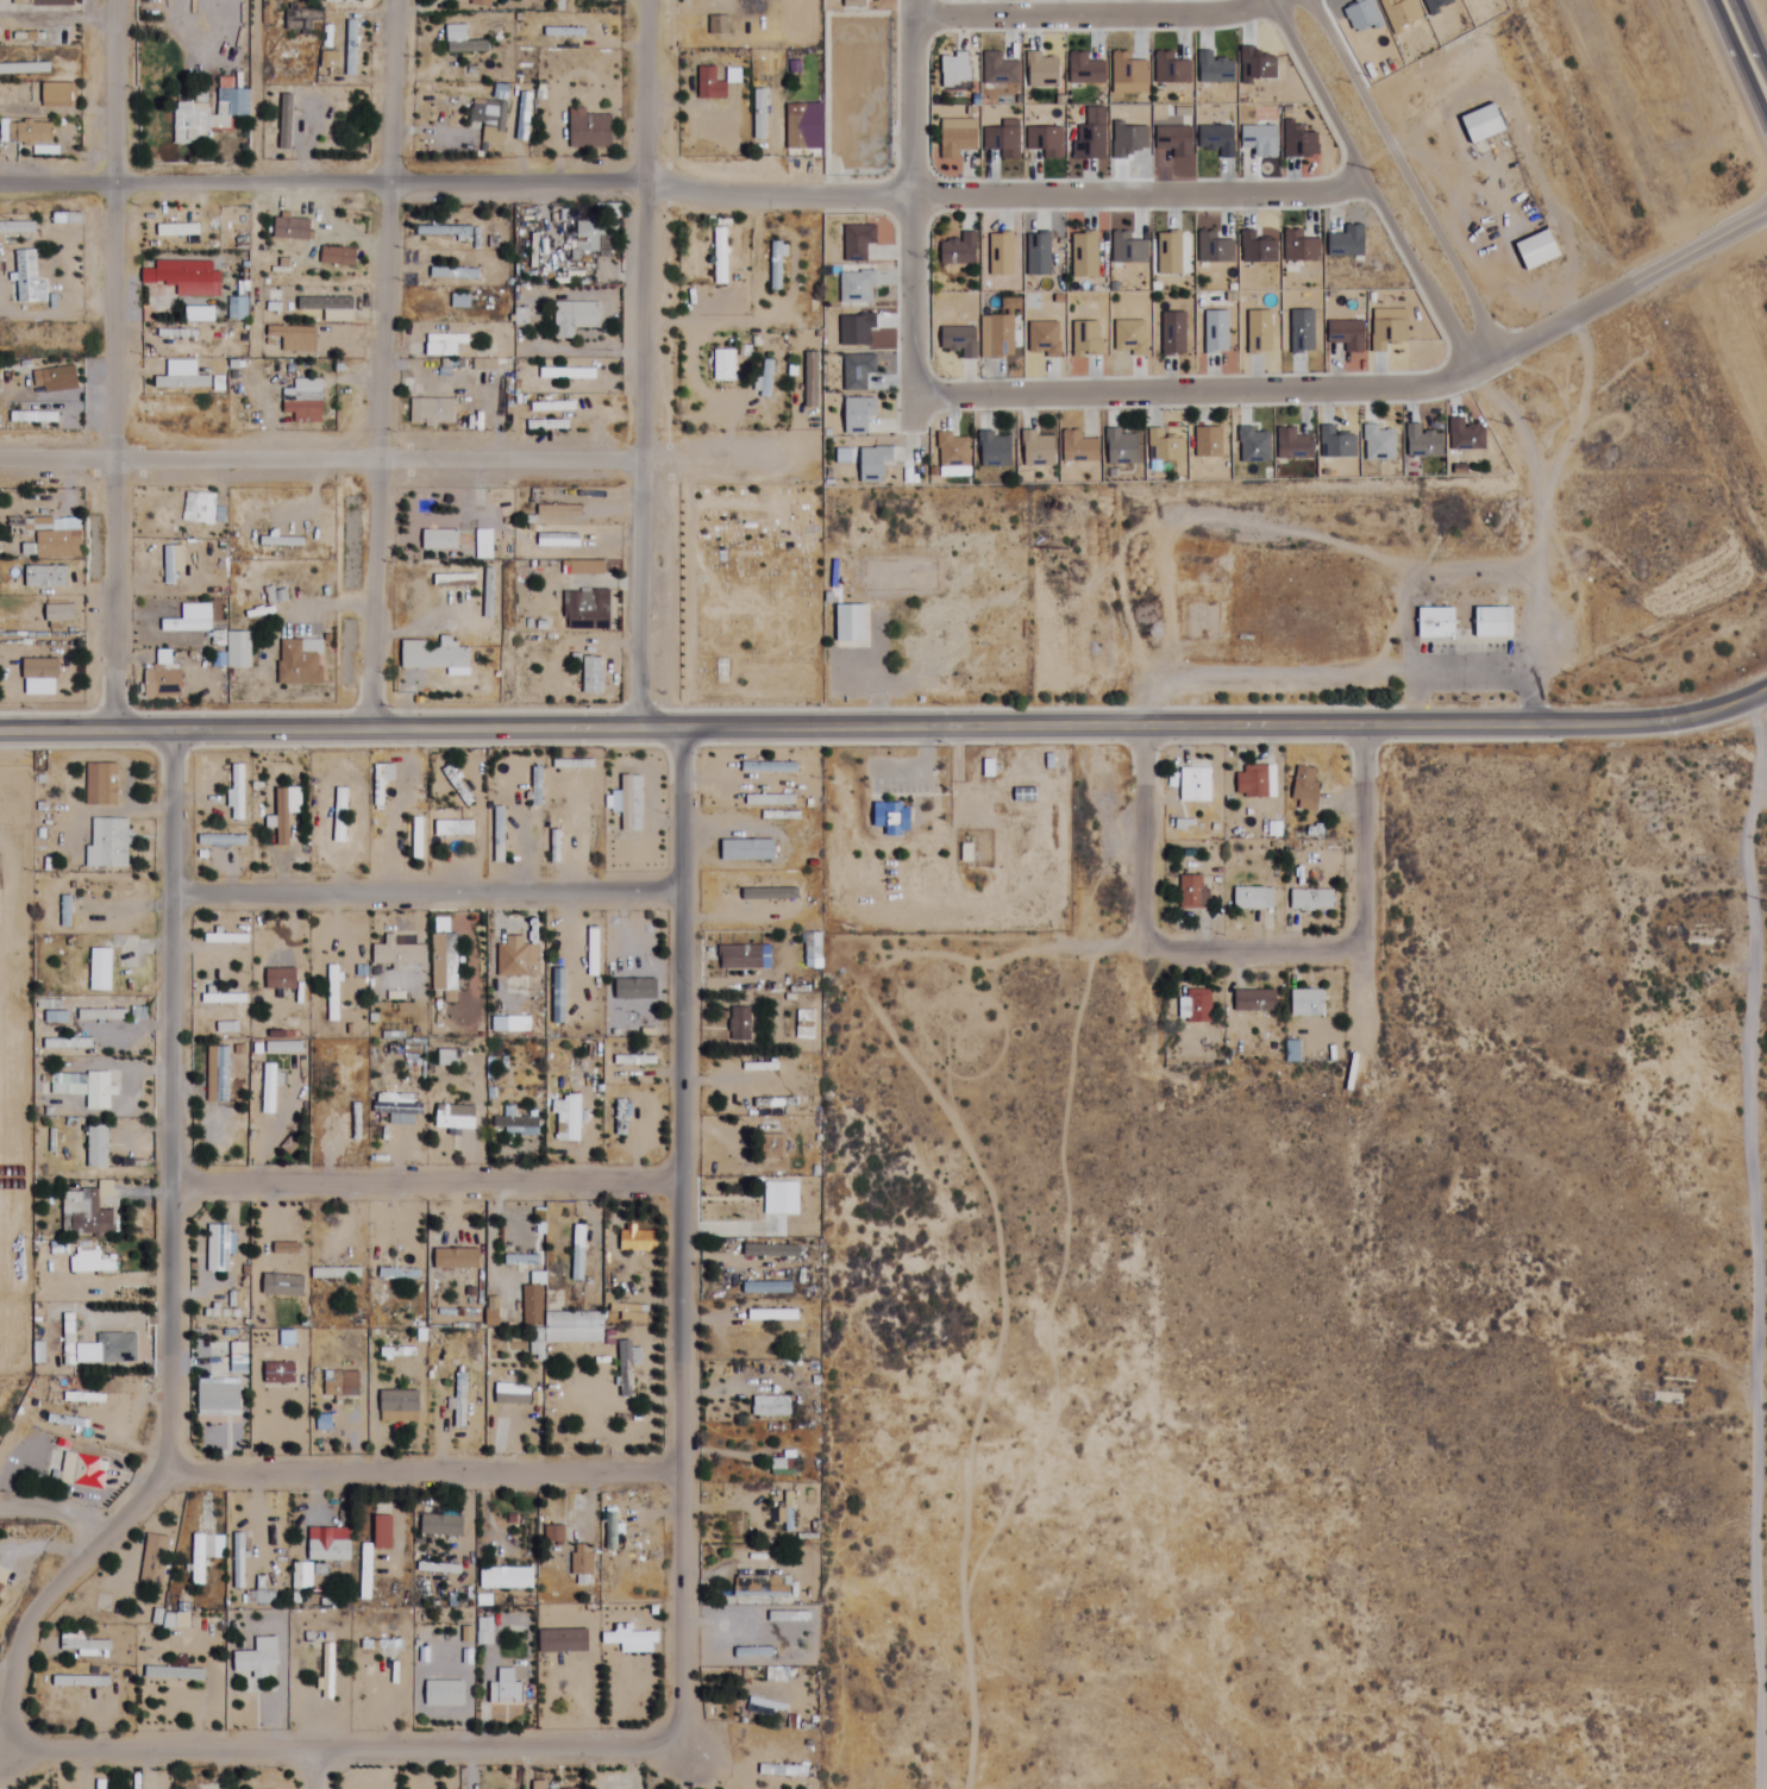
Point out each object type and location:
building: (343, 1)
building: (42, 2)
building: (482, 4)
building: (267, 12)
road: (1091, 20)
building: (463, 43)
road: (1747, 44)
building: (351, 49)
building: (286, 61)
building: (24, 68)
road: (1732, 75)
building: (709, 84)
building: (58, 94)
road: (641, 94)
building: (207, 115)
building: (758, 118)
building: (493, 120)
building: (1483, 124)
building: (804, 127)
building: (589, 131)
building: (27, 132)
road: (1398, 177)
road: (249, 178)
road: (320, 186)
road: (1359, 187)
road: (1000, 199)
road: (903, 218)
building: (65, 219)
building: (17, 228)
building: (290, 230)
building: (177, 231)
building: (443, 232)
building: (1536, 250)
building: (337, 257)
building: (25, 265)
building: (776, 266)
building: (450, 275)
building: (176, 282)
building: (239, 309)
building: (574, 319)
building: (289, 340)
road: (107, 362)
road: (382, 363)
building: (723, 365)
building: (566, 375)
building: (58, 379)
building: (182, 382)
building: (765, 383)
road: (1358, 395)
building: (303, 402)
building: (552, 407)
building: (430, 413)
building: (549, 425)
road: (643, 454)
road: (401, 457)
building: (199, 509)
building: (559, 511)
building: (17, 527)
building: (56, 539)
building: (439, 541)
building: (484, 545)
building: (168, 565)
building: (276, 597)
building: (585, 610)
building: (58, 614)
building: (1435, 623)
building: (1493, 623)
building: (850, 624)
building: (184, 627)
building: (238, 651)
building: (433, 657)
building: (300, 663)
building: (32, 666)
building: (593, 676)
road: (1464, 678)
building: (161, 682)
road: (885, 724)
building: (572, 764)
building: (382, 779)
building: (1257, 783)
building: (100, 785)
building: (1195, 785)
building: (537, 786)
building: (457, 787)
building: (777, 787)
building: (1305, 790)
building: (237, 792)
building: (1025, 796)
building: (626, 803)
building: (339, 816)
building: (891, 818)
building: (453, 829)
building: (282, 833)
building: (499, 835)
building: (416, 839)
building: (224, 841)
road: (1135, 841)
building: (107, 845)
building: (554, 847)
building: (1192, 894)
road: (426, 897)
building: (1253, 899)
building: (1310, 902)
road: (1351, 949)
building: (593, 952)
building: (397, 955)
building: (443, 958)
building: (518, 959)
building: (99, 971)
building: (280, 980)
building: (556, 996)
building: (223, 999)
building: (1254, 1002)
building: (1305, 1004)
building: (1196, 1006)
building: (101, 1016)
building: (55, 1018)
building: (739, 1027)
building: (807, 1032)
building: (447, 1059)
building: (634, 1061)
building: (217, 1075)
building: (83, 1088)
building: (269, 1088)
building: (394, 1111)
building: (455, 1119)
building: (572, 1119)
building: (516, 1125)
building: (96, 1148)
building: (772, 1148)
road: (424, 1180)
building: (781, 1200)
building: (83, 1216)
road: (673, 1230)
building: (638, 1243)
building: (218, 1249)
building: (287, 1249)
building: (577, 1254)
building: (521, 1262)
road: (173, 1264)
building: (445, 1266)
building: (742, 1269)
building: (336, 1275)
building: (397, 1275)
building: (282, 1287)
road: (1757, 1310)
building: (399, 1318)
building: (566, 1331)
building: (111, 1349)
building: (230, 1357)
building: (626, 1369)
building: (278, 1375)
building: (340, 1385)
building: (74, 1399)
building: (217, 1400)
building: (397, 1407)
building: (771, 1407)
building: (783, 1467)
building: (79, 1471)
road: (425, 1471)
building: (440, 1526)
building: (381, 1532)
building: (554, 1536)
building: (327, 1551)
building: (203, 1553)
building: (158, 1561)
building: (238, 1561)
building: (582, 1561)
building: (430, 1568)
building: (365, 1573)
building: (506, 1578)
building: (762, 1586)
building: (259, 1597)
building: (788, 1618)
building: (562, 1642)
building: (631, 1642)
building: (381, 1645)
building: (84, 1646)
building: (753, 1652)
building: (253, 1662)
building: (327, 1671)
building: (173, 1674)
building: (82, 1684)
building: (505, 1693)
building: (443, 1694)
road: (342, 1739)
road: (321, 1764)
building: (783, 1771)
building: (538, 1785)

